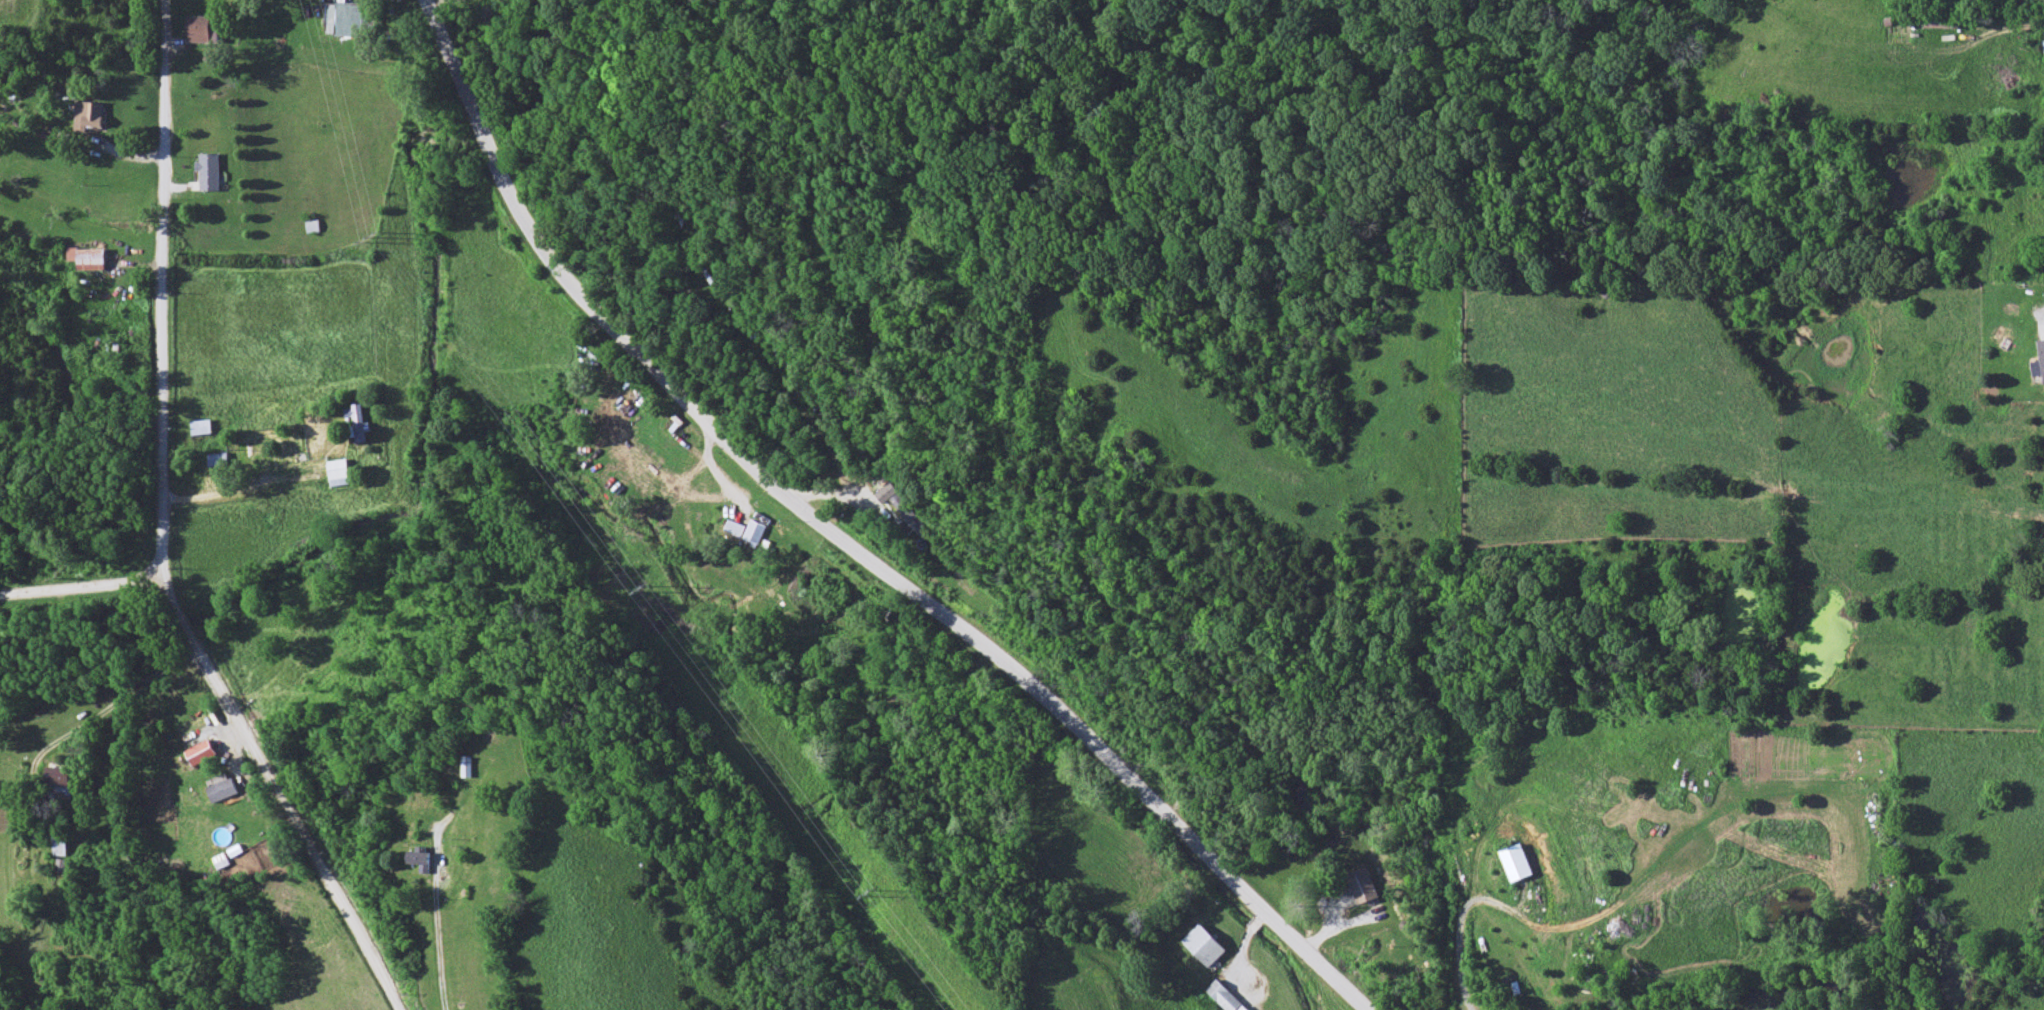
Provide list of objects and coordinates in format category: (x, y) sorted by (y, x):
power tower: (369, 239)
road: (164, 276)
road: (846, 543)
road: (168, 579)
road: (158, 585)
road: (90, 588)
power tower: (638, 594)
road: (186, 622)
road: (98, 719)
road: (299, 824)
power tower: (863, 901)

